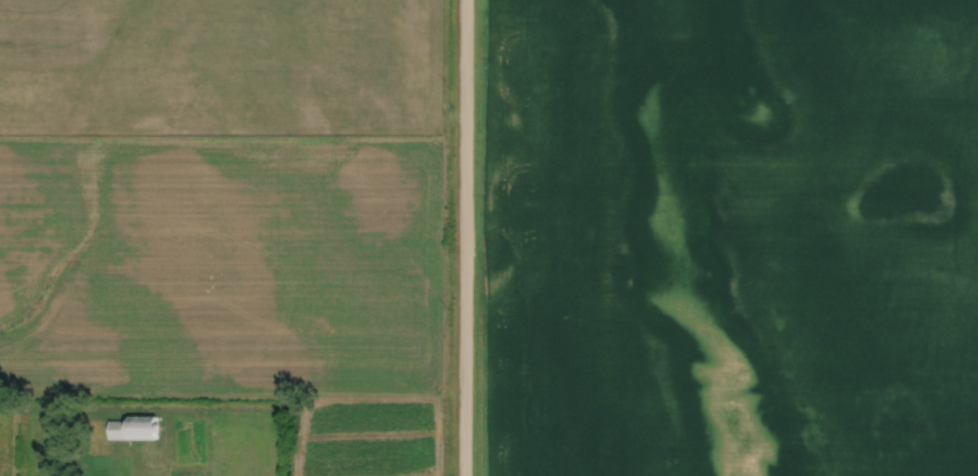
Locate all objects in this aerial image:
road: (472, 238)
building: (135, 428)

